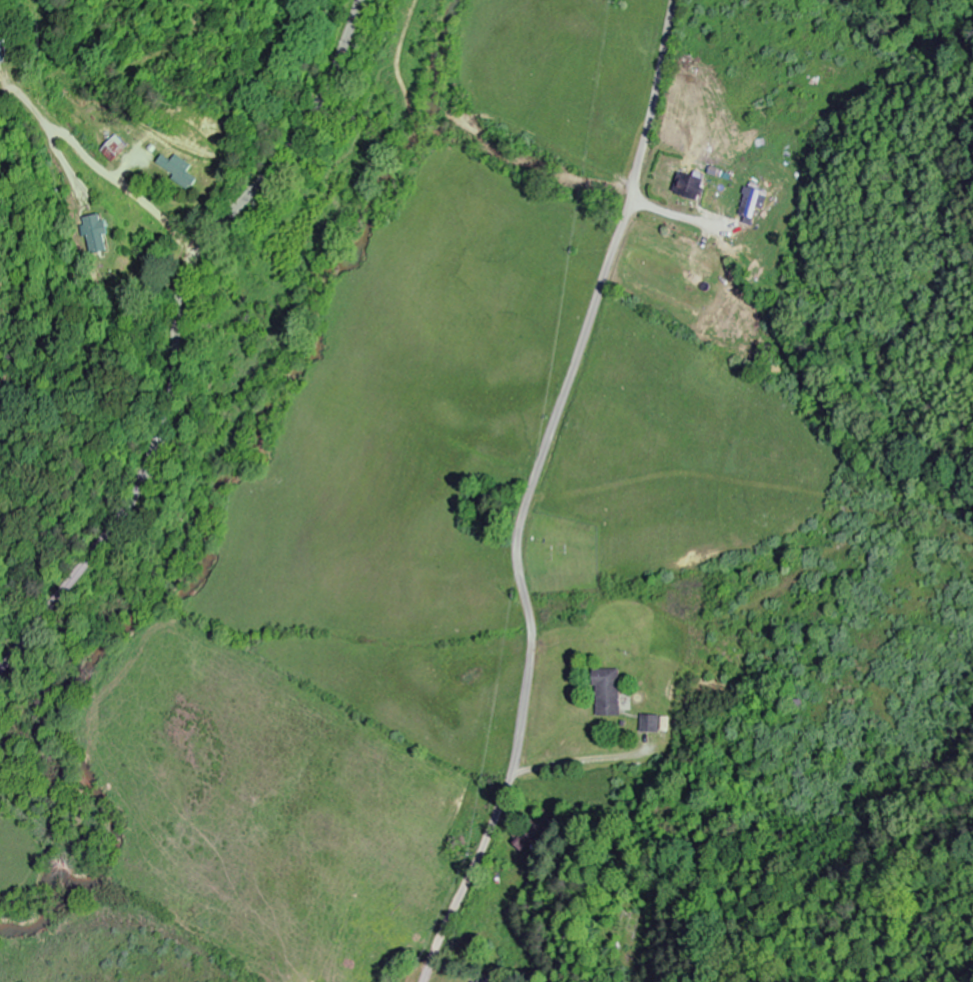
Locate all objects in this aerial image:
building: (116, 149)
building: (183, 171)
building: (693, 189)
building: (754, 203)
building: (95, 233)
road: (175, 333)
road: (532, 491)
building: (613, 693)
building: (653, 724)

